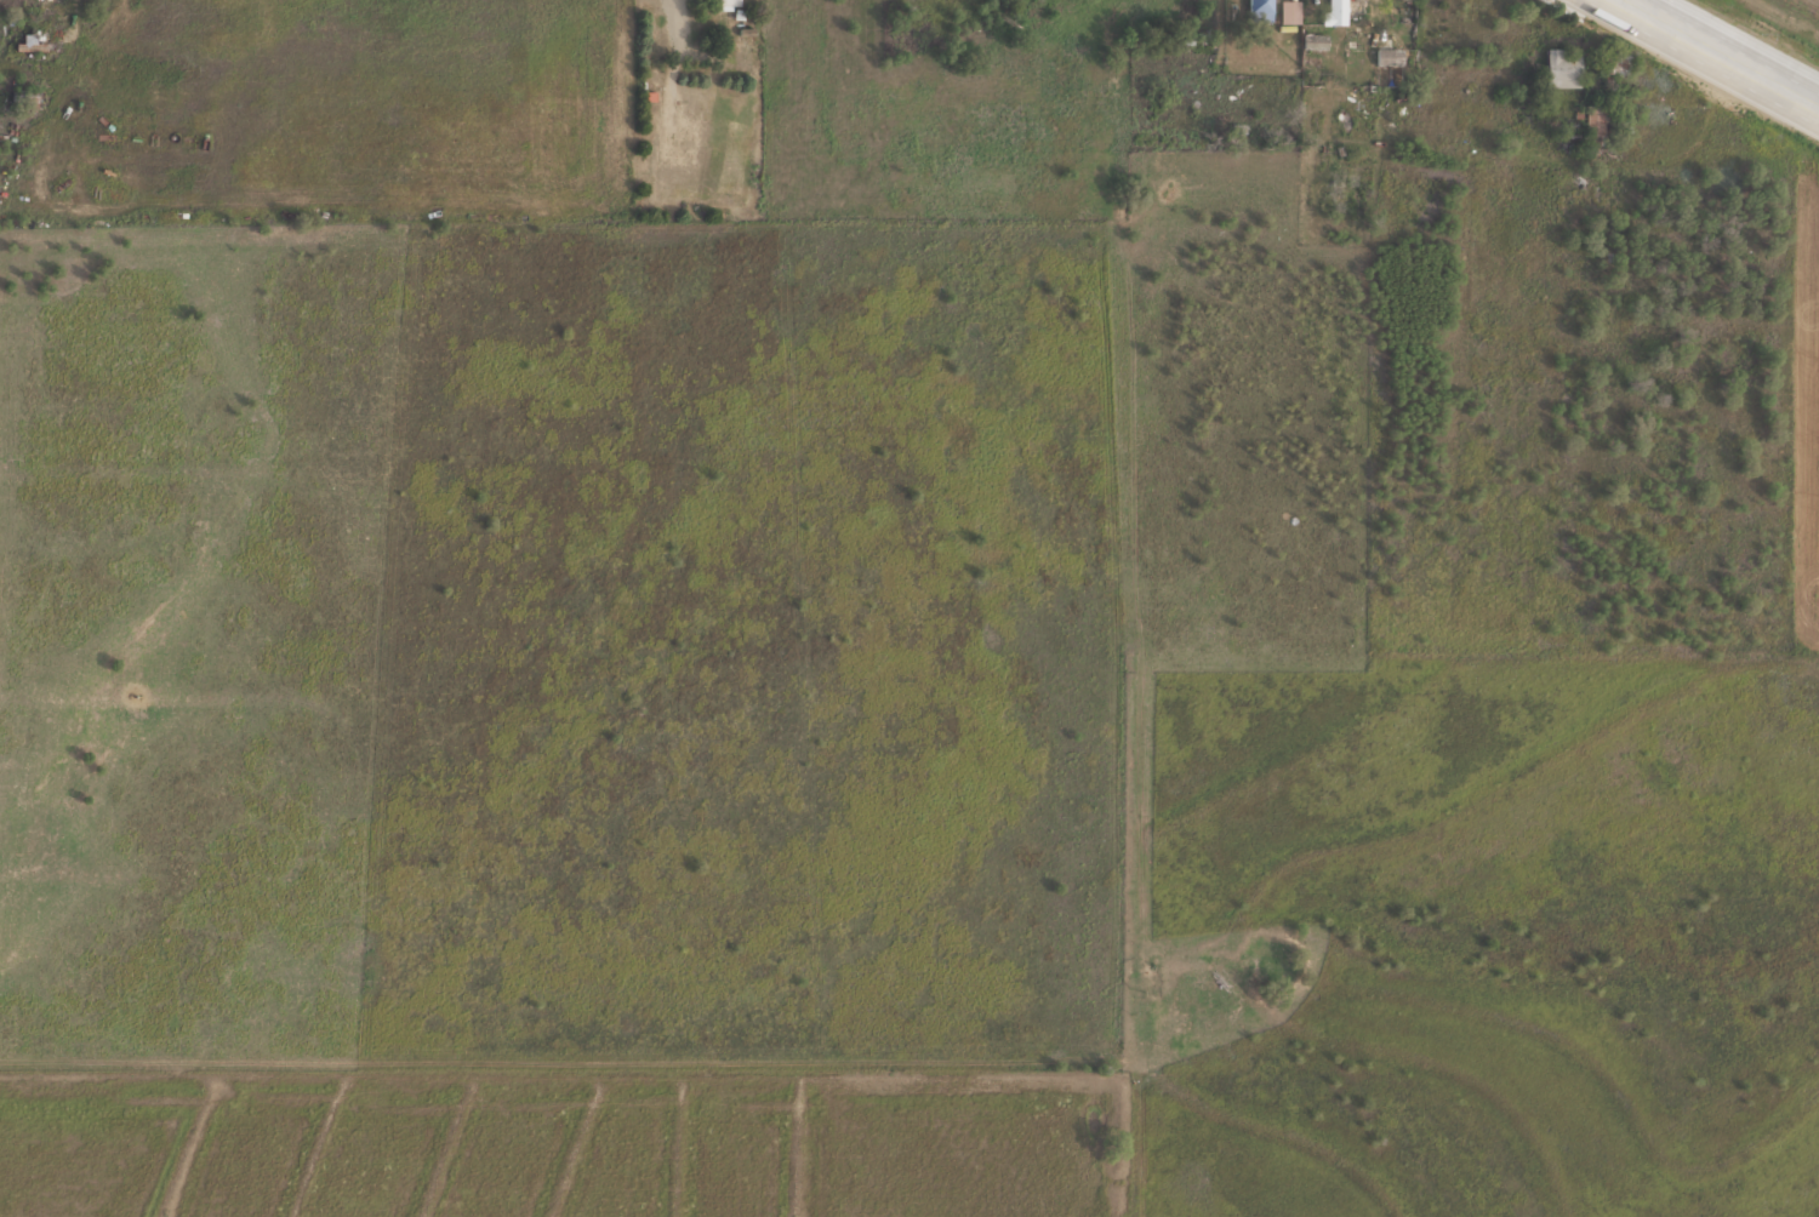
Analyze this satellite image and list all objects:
building: (726, 2)
building: (1259, 10)
building: (1335, 12)
road: (1726, 50)
building: (1387, 57)
building: (1561, 67)
building: (1595, 119)

